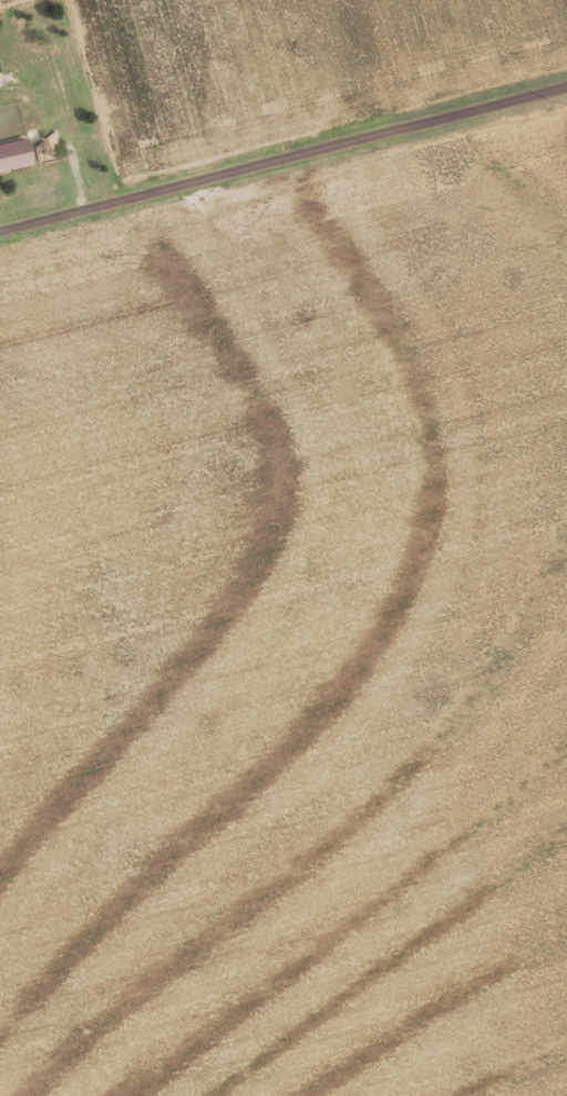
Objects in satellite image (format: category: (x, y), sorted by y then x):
road: (283, 155)

